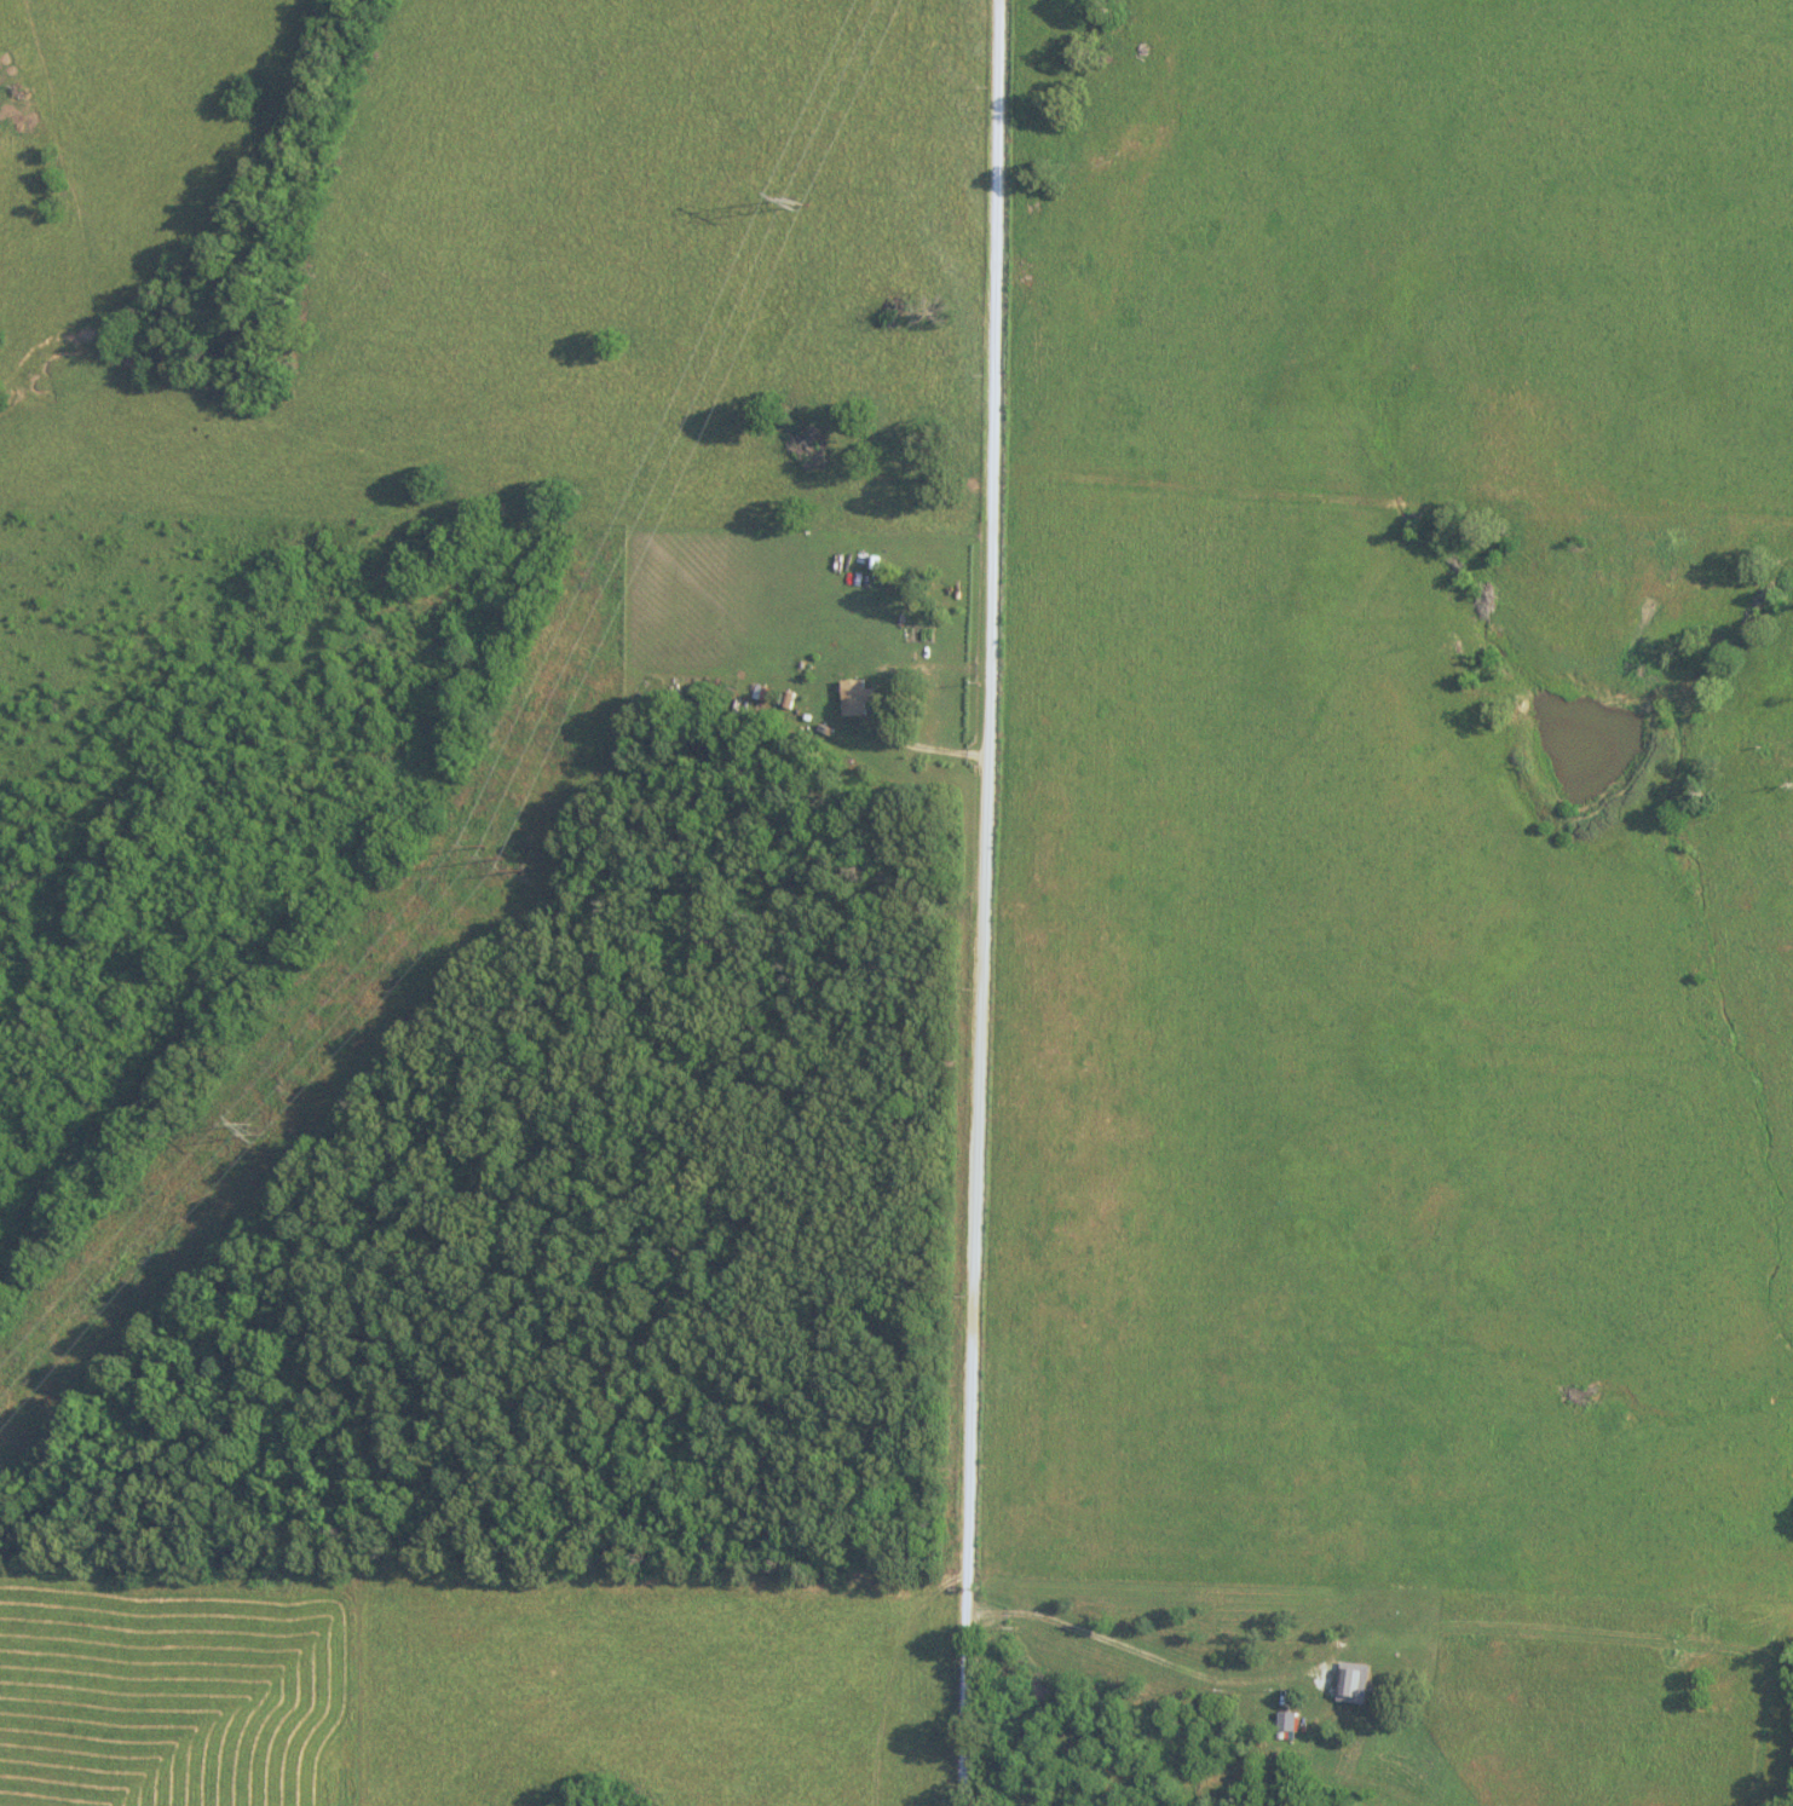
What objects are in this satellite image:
power tower: (801, 200)
building: (858, 696)
road: (892, 702)
power tower: (502, 859)
road: (990, 902)
power tower: (249, 1129)

